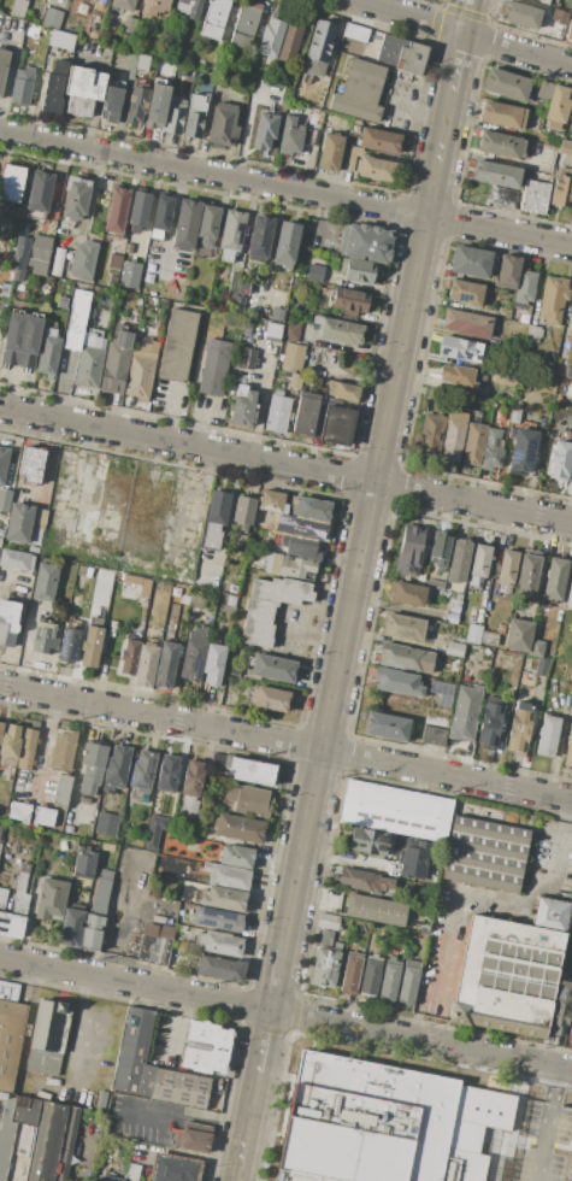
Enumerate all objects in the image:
building: (548, 2)
building: (124, 4)
building: (155, 6)
building: (18, 7)
building: (189, 8)
building: (520, 14)
road: (466, 17)
building: (51, 18)
building: (216, 18)
building: (553, 23)
building: (129, 24)
building: (244, 24)
building: (568, 29)
road: (462, 34)
building: (290, 37)
building: (61, 40)
building: (270, 40)
building: (359, 42)
building: (318, 48)
building: (401, 54)
building: (142, 61)
road: (456, 63)
building: (4, 65)
building: (506, 83)
building: (23, 86)
building: (54, 88)
building: (288, 88)
building: (82, 89)
road: (94, 89)
building: (543, 89)
building: (360, 90)
building: (111, 102)
building: (157, 104)
building: (137, 105)
building: (558, 107)
road: (414, 110)
building: (173, 114)
building: (195, 114)
building: (503, 114)
building: (571, 116)
road: (244, 118)
building: (223, 125)
building: (355, 128)
building: (265, 130)
building: (291, 136)
building: (311, 137)
building: (379, 141)
building: (500, 145)
building: (565, 147)
building: (330, 151)
building: (352, 157)
road: (499, 159)
building: (375, 169)
building: (496, 174)
building: (11, 182)
road: (285, 187)
building: (40, 192)
building: (561, 192)
building: (503, 196)
building: (535, 196)
building: (76, 198)
road: (87, 199)
building: (117, 211)
building: (138, 211)
building: (163, 213)
road: (170, 221)
building: (187, 224)
building: (207, 229)
building: (231, 233)
building: (259, 237)
building: (366, 242)
building: (285, 245)
building: (40, 247)
building: (128, 248)
building: (17, 258)
building: (83, 260)
building: (55, 262)
building: (116, 262)
building: (471, 262)
building: (37, 266)
building: (356, 270)
building: (508, 271)
building: (314, 272)
building: (128, 274)
building: (17, 276)
building: (112, 281)
building: (244, 286)
building: (234, 287)
building: (524, 288)
building: (466, 292)
building: (96, 293)
building: (349, 299)
building: (553, 299)
building: (240, 301)
building: (505, 315)
building: (77, 318)
building: (571, 321)
building: (467, 323)
building: (246, 327)
building: (338, 329)
building: (290, 330)
building: (272, 331)
building: (532, 333)
building: (154, 335)
building: (22, 340)
building: (177, 346)
building: (460, 349)
building: (48, 352)
building: (294, 356)
building: (90, 358)
building: (247, 358)
building: (116, 363)
building: (214, 368)
building: (141, 371)
building: (568, 372)
building: (461, 376)
building: (505, 380)
building: (295, 381)
road: (261, 383)
building: (342, 390)
building: (243, 405)
road: (164, 411)
building: (277, 413)
building: (305, 413)
building: (514, 415)
building: (500, 416)
road: (196, 422)
building: (337, 423)
building: (454, 435)
building: (431, 436)
building: (473, 443)
building: (493, 450)
building: (521, 450)
building: (560, 458)
building: (2, 463)
building: (31, 463)
road: (285, 465)
building: (5, 499)
building: (272, 501)
building: (312, 509)
building: (243, 512)
building: (39, 517)
building: (214, 521)
road: (365, 521)
building: (18, 523)
building: (265, 523)
building: (36, 534)
building: (0, 540)
building: (297, 546)
building: (33, 550)
building: (409, 551)
building: (440, 551)
building: (16, 559)
building: (480, 560)
building: (459, 562)
building: (288, 565)
building: (506, 571)
building: (527, 572)
building: (420, 578)
building: (554, 578)
building: (45, 581)
building: (135, 583)
building: (435, 583)
building: (226, 587)
building: (408, 594)
building: (458, 595)
building: (570, 595)
building: (196, 600)
building: (269, 606)
building: (452, 610)
building: (8, 622)
building: (403, 627)
building: (501, 628)
road: (309, 630)
building: (473, 634)
building: (519, 635)
building: (43, 637)
building: (489, 637)
building: (461, 640)
building: (67, 645)
building: (90, 646)
building: (537, 646)
building: (454, 648)
building: (194, 654)
building: (129, 657)
building: (405, 657)
building: (514, 662)
building: (213, 663)
building: (146, 664)
building: (166, 664)
building: (541, 666)
building: (273, 668)
building: (232, 671)
building: (397, 682)
building: (441, 692)
building: (269, 698)
building: (401, 698)
building: (465, 712)
building: (490, 721)
building: (385, 725)
building: (1, 729)
building: (519, 729)
building: (434, 735)
building: (547, 736)
road: (285, 741)
building: (10, 745)
building: (26, 747)
road: (45, 747)
building: (568, 750)
building: (63, 751)
building: (217, 759)
building: (116, 768)
building: (90, 770)
building: (252, 770)
building: (142, 771)
building: (169, 772)
building: (191, 778)
building: (61, 789)
building: (247, 799)
building: (188, 809)
road: (565, 809)
building: (395, 811)
building: (19, 812)
building: (43, 816)
building: (106, 824)
building: (0, 825)
building: (240, 828)
building: (67, 829)
building: (489, 830)
building: (368, 841)
building: (487, 846)
building: (107, 847)
building: (236, 856)
building: (413, 858)
building: (483, 862)
building: (83, 863)
building: (25, 866)
building: (430, 874)
building: (226, 876)
building: (480, 877)
building: (362, 880)
building: (20, 881)
road: (468, 894)
building: (52, 897)
building: (2, 898)
building: (222, 898)
building: (20, 904)
building: (375, 910)
building: (552, 913)
building: (217, 918)
building: (328, 922)
building: (11, 924)
building: (93, 926)
building: (415, 926)
building: (71, 927)
building: (158, 930)
building: (326, 938)
building: (218, 942)
building: (154, 950)
building: (325, 965)
building: (220, 968)
building: (352, 971)
building: (371, 976)
building: (507, 977)
building: (389, 979)
road: (275, 980)
building: (408, 981)
building: (560, 1009)
road: (285, 1013)
building: (571, 1024)
road: (413, 1026)
building: (47, 1036)
building: (11, 1040)
road: (263, 1040)
building: (205, 1046)
building: (134, 1054)
building: (179, 1088)
building: (100, 1099)
road: (176, 1107)
building: (403, 1110)
building: (24, 1111)
road: (246, 1126)
building: (6, 1134)
building: (193, 1136)
building: (25, 1139)
building: (52, 1141)
road: (85, 1151)
road: (177, 1152)
building: (531, 1168)
building: (173, 1169)
building: (132, 1171)
building: (303, 1174)
building: (108, 1179)

